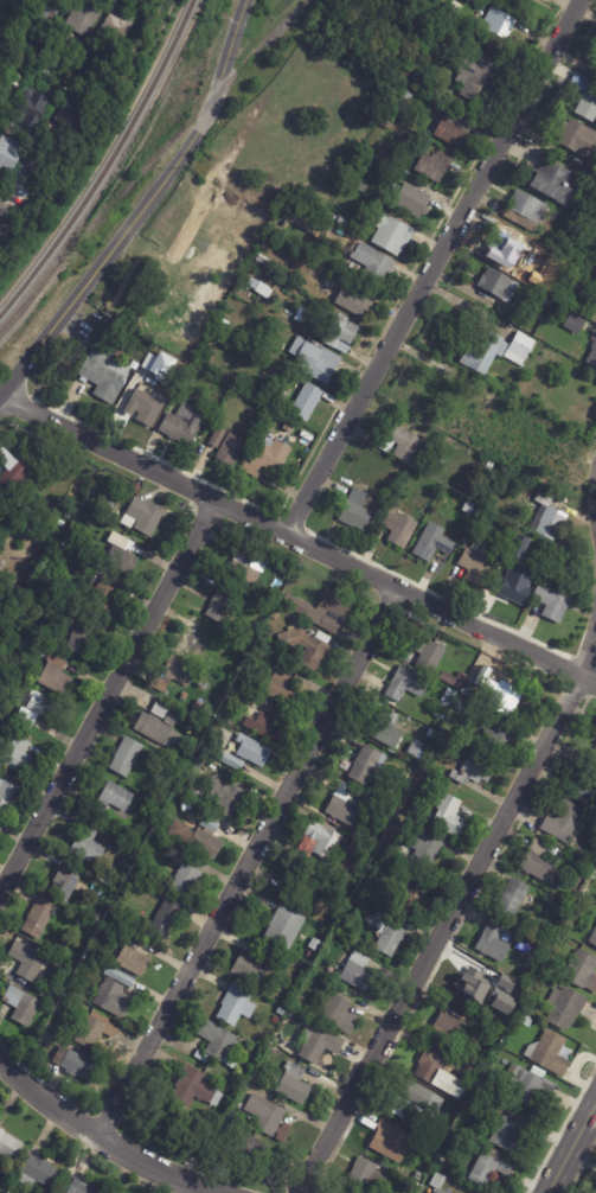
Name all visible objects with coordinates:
building: (15, 0)
building: (510, 1)
building: (47, 11)
building: (85, 19)
building: (499, 23)
building: (115, 33)
building: (105, 64)
building: (595, 66)
building: (60, 71)
building: (478, 75)
building: (2, 76)
building: (17, 82)
building: (96, 84)
building: (21, 101)
building: (585, 104)
building: (4, 109)
building: (65, 113)
building: (481, 115)
building: (0, 122)
building: (454, 130)
building: (577, 139)
building: (9, 153)
railway: (149, 164)
railway: (108, 165)
building: (435, 166)
building: (40, 170)
building: (550, 183)
building: (360, 186)
building: (594, 187)
building: (412, 200)
road: (143, 209)
building: (521, 209)
building: (344, 221)
building: (570, 227)
building: (392, 232)
building: (310, 243)
building: (269, 244)
building: (507, 248)
building: (263, 259)
building: (373, 264)
building: (555, 264)
road: (430, 267)
building: (494, 286)
building: (267, 289)
building: (358, 300)
building: (259, 317)
building: (307, 317)
building: (571, 323)
building: (224, 324)
building: (340, 332)
building: (220, 338)
building: (515, 349)
building: (479, 351)
building: (591, 357)
building: (316, 359)
building: (155, 364)
building: (105, 371)
building: (501, 389)
building: (451, 401)
building: (308, 402)
building: (481, 402)
building: (147, 408)
building: (185, 423)
building: (289, 427)
building: (496, 432)
building: (219, 436)
building: (397, 442)
building: (233, 448)
building: (273, 454)
building: (437, 458)
building: (14, 470)
building: (251, 470)
building: (135, 490)
building: (113, 491)
building: (130, 498)
building: (108, 506)
building: (466, 509)
building: (351, 512)
building: (69, 515)
building: (145, 516)
building: (545, 518)
building: (474, 523)
building: (395, 527)
building: (464, 538)
road: (297, 540)
building: (430, 544)
building: (514, 544)
building: (121, 553)
building: (2, 566)
building: (472, 567)
building: (245, 570)
building: (513, 587)
building: (108, 591)
building: (273, 596)
building: (224, 602)
building: (546, 604)
building: (326, 611)
building: (276, 614)
building: (82, 633)
building: (197, 639)
building: (308, 646)
building: (259, 653)
building: (429, 653)
building: (213, 662)
building: (17, 664)
building: (57, 675)
building: (175, 675)
building: (305, 677)
building: (454, 678)
building: (406, 684)
building: (283, 688)
building: (238, 689)
building: (504, 690)
building: (453, 694)
road: (108, 695)
building: (259, 698)
building: (446, 702)
building: (461, 703)
building: (198, 707)
building: (40, 709)
building: (166, 714)
building: (441, 714)
building: (225, 715)
building: (268, 723)
building: (389, 728)
building: (158, 731)
building: (6, 735)
building: (496, 736)
building: (421, 739)
building: (441, 740)
building: (20, 741)
building: (594, 748)
building: (254, 751)
building: (417, 751)
building: (595, 755)
building: (128, 757)
building: (18, 760)
building: (233, 761)
building: (197, 764)
building: (367, 766)
building: (475, 770)
building: (404, 777)
building: (590, 786)
building: (196, 792)
building: (9, 795)
building: (412, 795)
building: (226, 796)
building: (114, 799)
building: (345, 805)
building: (389, 811)
building: (447, 814)
building: (569, 822)
building: (392, 831)
building: (200, 836)
building: (322, 842)
building: (90, 844)
building: (427, 847)
building: (539, 861)
road: (250, 865)
building: (393, 867)
building: (186, 874)
building: (350, 878)
building: (68, 880)
building: (300, 881)
building: (412, 894)
building: (517, 895)
building: (358, 897)
road: (455, 906)
building: (41, 917)
building: (167, 918)
building: (376, 920)
building: (287, 927)
building: (318, 932)
building: (130, 937)
building: (392, 939)
building: (594, 939)
building: (494, 942)
building: (255, 951)
building: (28, 961)
building: (134, 961)
building: (534, 962)
building: (251, 969)
building: (358, 971)
building: (583, 971)
building: (121, 976)
building: (476, 981)
building: (507, 984)
building: (332, 985)
building: (115, 999)
building: (24, 1006)
building: (238, 1006)
building: (566, 1008)
building: (282, 1010)
building: (340, 1013)
building: (293, 1015)
building: (275, 1020)
building: (526, 1020)
building: (454, 1022)
building: (96, 1031)
building: (49, 1039)
building: (63, 1040)
building: (218, 1040)
building: (320, 1046)
building: (552, 1053)
building: (78, 1064)
building: (233, 1064)
building: (441, 1073)
building: (475, 1077)
building: (294, 1083)
building: (492, 1084)
building: (527, 1084)
building: (196, 1086)
building: (418, 1105)
building: (499, 1108)
building: (480, 1112)
building: (269, 1118)
building: (442, 1135)
building: (510, 1136)
building: (392, 1142)
building: (9, 1144)
road: (101, 1144)
building: (423, 1144)
building: (248, 1147)
road: (570, 1147)
building: (442, 1161)
building: (489, 1169)
building: (39, 1170)
building: (367, 1175)
building: (418, 1176)
building: (438, 1182)
building: (83, 1187)
park: (592, 1187)
building: (410, 1189)
building: (447, 1192)

